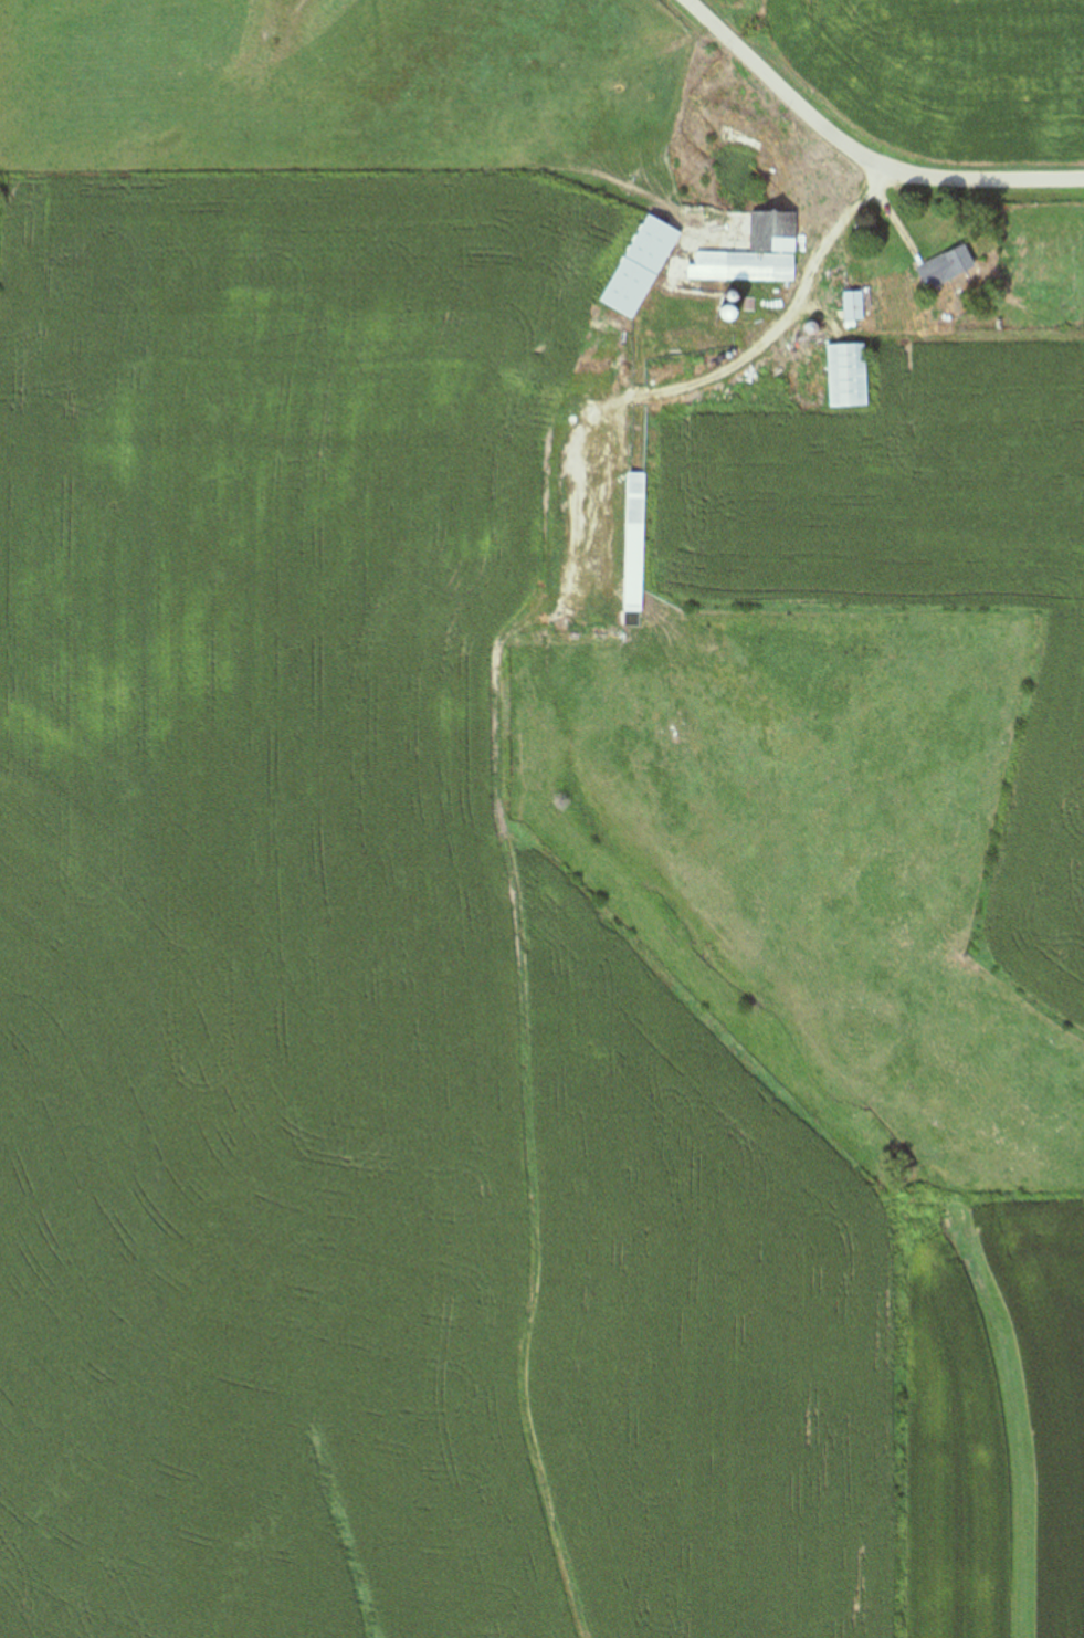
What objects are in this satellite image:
road: (856, 158)
building: (754, 253)
road: (823, 258)
building: (640, 266)
building: (945, 267)
building: (852, 306)
building: (846, 376)
building: (486, 486)
building: (633, 543)

